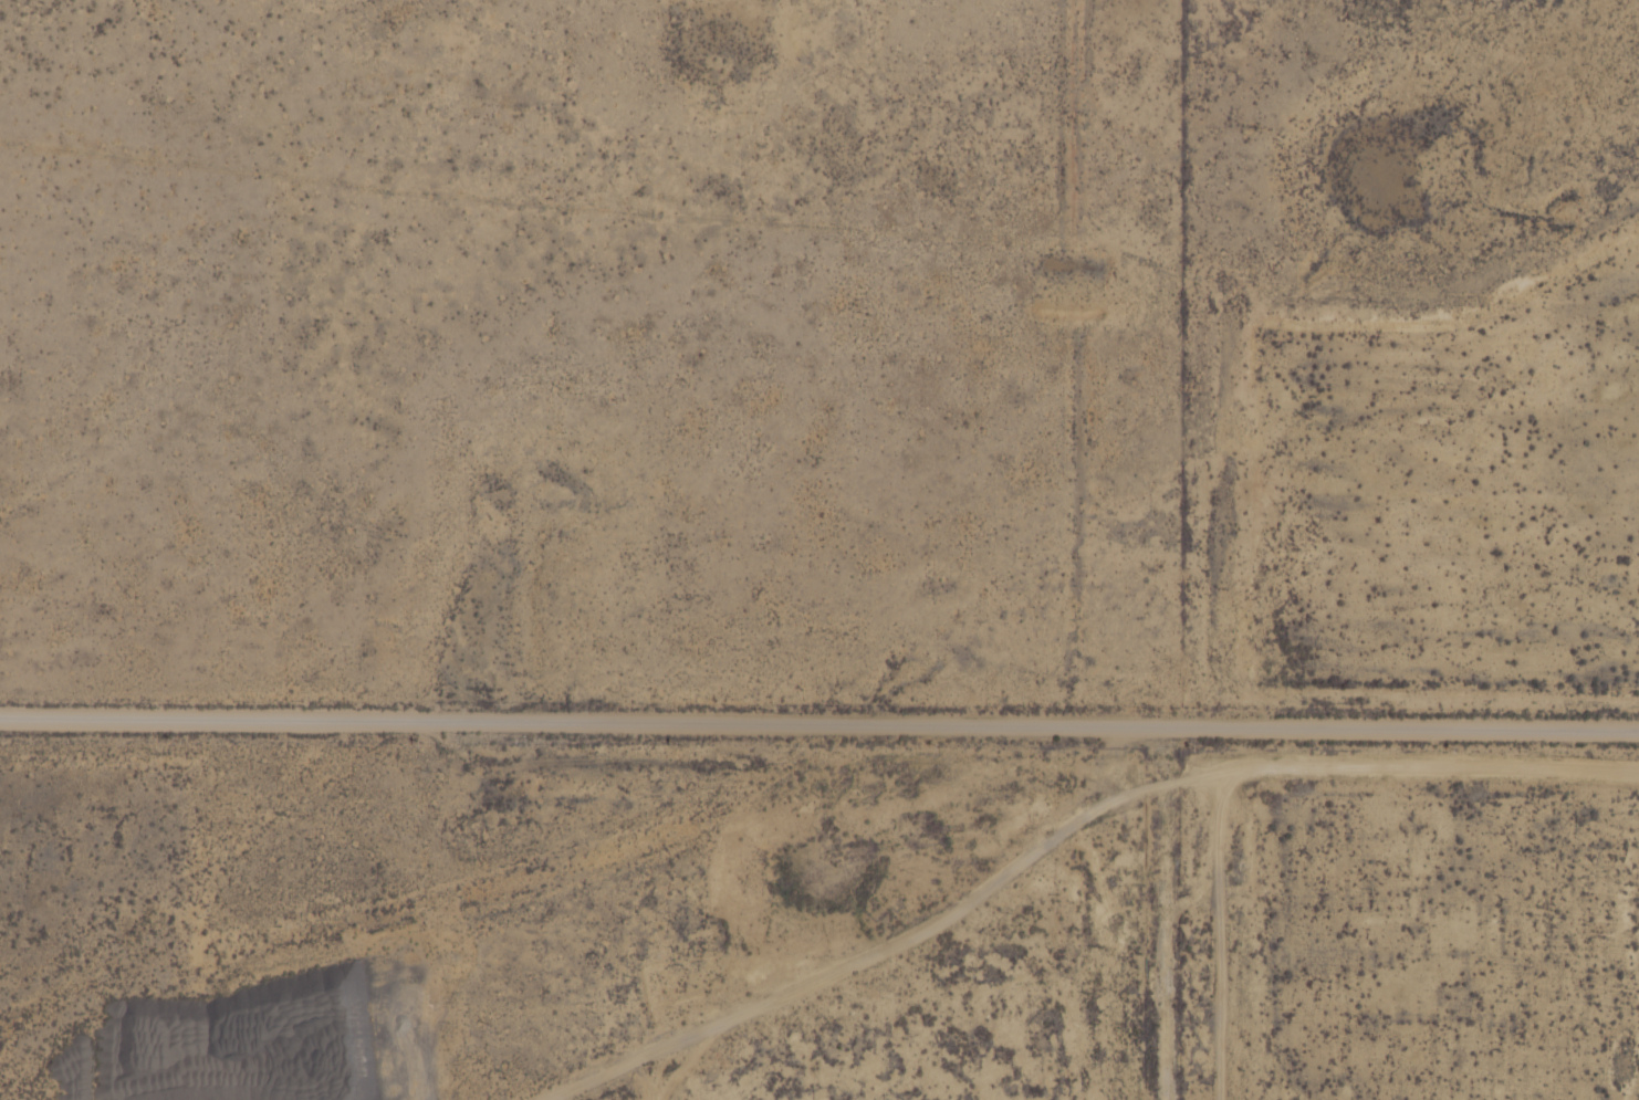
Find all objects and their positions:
road: (819, 716)

